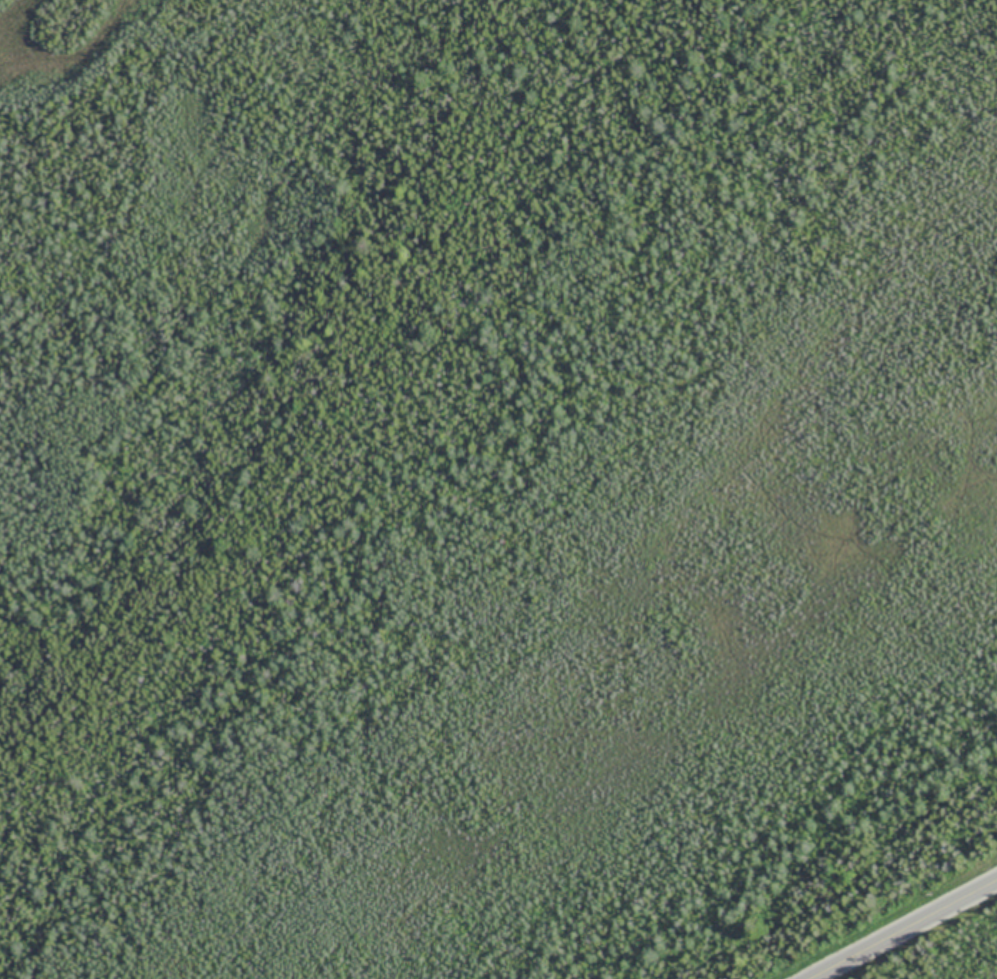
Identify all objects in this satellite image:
road: (909, 932)

